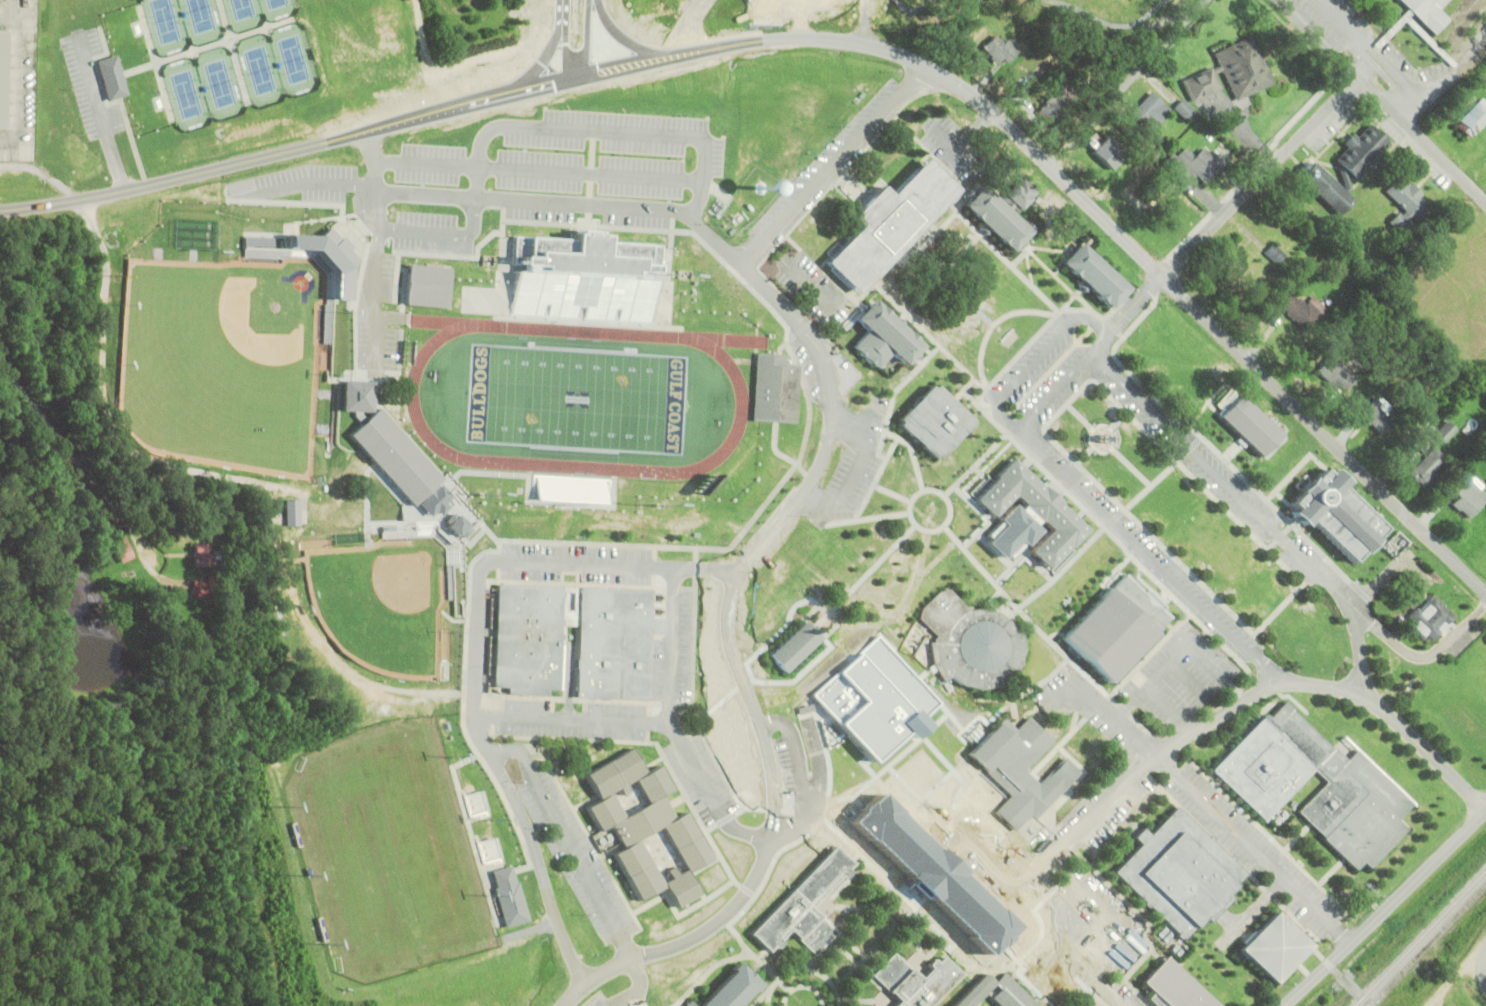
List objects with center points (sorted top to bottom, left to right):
road: (778, 0)
park: (276, 6)
road: (562, 7)
park: (241, 11)
building: (1428, 12)
park: (199, 18)
road: (803, 18)
park: (163, 24)
road: (588, 39)
road: (626, 40)
road: (567, 48)
building: (995, 48)
park: (293, 54)
road: (539, 59)
park: (259, 64)
building: (1243, 67)
building: (1198, 70)
building: (114, 77)
park: (218, 77)
building: (4, 78)
parking lot: (87, 78)
road: (1446, 79)
building: (1203, 81)
road: (1127, 82)
park: (184, 88)
road: (940, 90)
road: (1384, 99)
road: (465, 107)
building: (1052, 107)
road: (99, 108)
building: (1183, 108)
building: (1148, 111)
building: (1473, 117)
road: (894, 118)
building: (1114, 152)
road: (834, 165)
building: (1189, 165)
building: (1343, 167)
road: (1260, 175)
water tower: (760, 189)
road: (540, 202)
building: (1404, 203)
building: (1001, 211)
building: (891, 224)
road: (379, 245)
road: (995, 247)
road: (1047, 248)
building: (333, 252)
building: (1274, 252)
road: (1023, 255)
road: (1042, 261)
building: (1238, 262)
road: (1030, 269)
road: (944, 272)
building: (1093, 274)
building: (585, 279)
road: (360, 282)
road: (812, 282)
road: (958, 285)
road: (840, 286)
building: (428, 287)
road: (1088, 305)
road: (1065, 309)
building: (1297, 309)
road: (814, 310)
road: (1126, 312)
road: (1211, 324)
road: (929, 333)
building: (885, 336)
road: (1121, 338)
road: (983, 345)
road: (1019, 355)
park: (222, 359)
road: (1037, 362)
road: (377, 366)
building: (1335, 375)
road: (1094, 380)
building: (773, 388)
track: (412, 395)
road: (894, 395)
park: (577, 397)
road: (1206, 407)
building: (1378, 415)
building: (935, 420)
road: (850, 423)
building: (1250, 424)
building: (1446, 431)
road: (1104, 437)
building: (384, 443)
road: (67, 446)
road: (1115, 447)
road: (793, 452)
road: (913, 453)
road: (977, 463)
building: (1429, 465)
road: (856, 469)
road: (1137, 469)
road: (440, 474)
road: (878, 477)
road: (1144, 477)
road: (436, 485)
road: (1152, 485)
road: (807, 486)
road: (933, 488)
road: (894, 492)
building: (1468, 496)
road: (367, 500)
building: (1033, 509)
building: (291, 511)
road: (1259, 513)
building: (1348, 513)
road: (968, 515)
road: (399, 517)
road: (870, 517)
road: (1115, 520)
road: (429, 531)
road: (1116, 537)
building: (120, 548)
building: (197, 553)
road: (938, 558)
road: (477, 559)
road: (636, 565)
road: (982, 565)
road: (1040, 570)
road: (865, 576)
building: (196, 588)
park: (382, 605)
building: (1429, 617)
building: (1119, 629)
road: (695, 633)
building: (972, 642)
road: (674, 644)
road: (860, 646)
building: (795, 647)
road: (1064, 650)
road: (1419, 654)
road: (1171, 656)
building: (612, 659)
road: (1190, 674)
road: (870, 678)
road: (1254, 704)
road: (1106, 708)
road: (1168, 708)
road: (1228, 710)
road: (954, 711)
road: (1131, 713)
road: (573, 719)
road: (855, 729)
road: (569, 737)
road: (1064, 740)
road: (957, 748)
road: (949, 756)
road: (1071, 759)
road: (499, 768)
building: (613, 772)
road: (733, 785)
building: (1014, 785)
building: (1357, 792)
building: (958, 796)
building: (477, 804)
road: (744, 808)
road: (1071, 813)
road: (913, 820)
road: (947, 829)
building: (681, 834)
road: (1240, 835)
road: (1273, 837)
road: (1297, 838)
road: (569, 842)
road: (594, 844)
building: (490, 850)
park: (383, 851)
road: (979, 853)
road: (1230, 853)
road: (709, 862)
road: (953, 872)
building: (1178, 872)
road: (1331, 872)
road: (853, 875)
road: (922, 875)
road: (1103, 878)
road: (950, 891)
building: (511, 896)
building: (802, 905)
road: (1382, 905)
road: (860, 906)
road: (929, 908)
road: (1131, 926)
road: (862, 927)
road: (918, 928)
road: (1033, 934)
road: (1080, 936)
road: (848, 938)
railway: (1421, 939)
road: (942, 942)
road: (1153, 942)
road: (879, 944)
building: (1273, 945)
road: (746, 946)
road: (1063, 946)
road: (862, 966)
road: (804, 969)
road: (1485, 969)
road: (708, 971)
road: (609, 972)
road: (1457, 977)
road: (1125, 978)
building: (915, 980)
road: (804, 986)
building: (1174, 986)
road: (631, 988)
building: (727, 988)
building: (973, 990)
building: (1010, 993)
road: (763, 996)
parking lot: (602, 999)
road: (856, 999)

